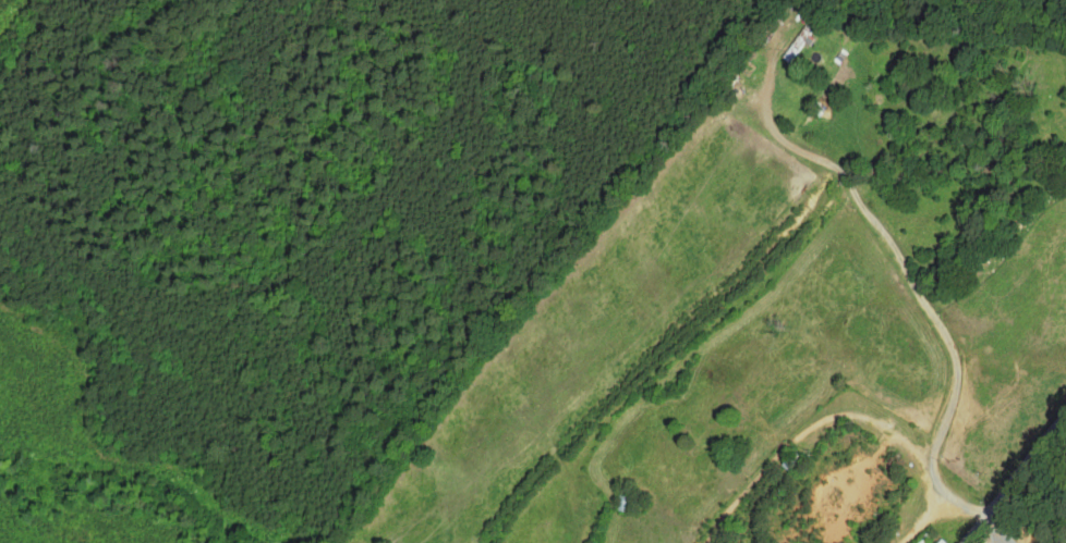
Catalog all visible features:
road: (1009, 476)

